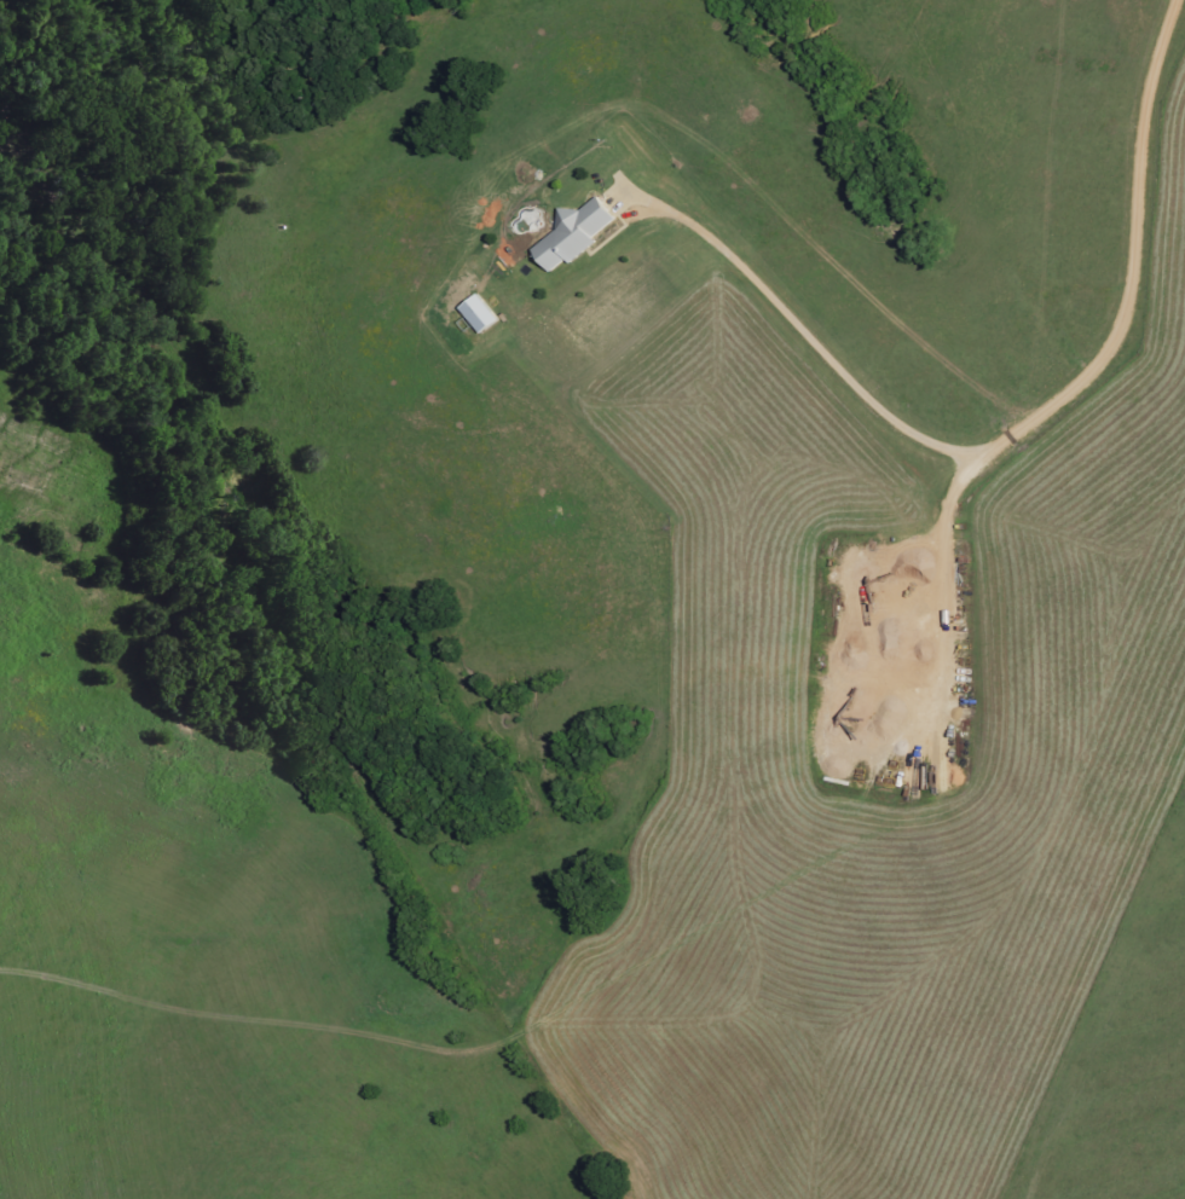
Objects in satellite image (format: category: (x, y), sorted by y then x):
building: (576, 232)
road: (1126, 300)
building: (481, 313)

